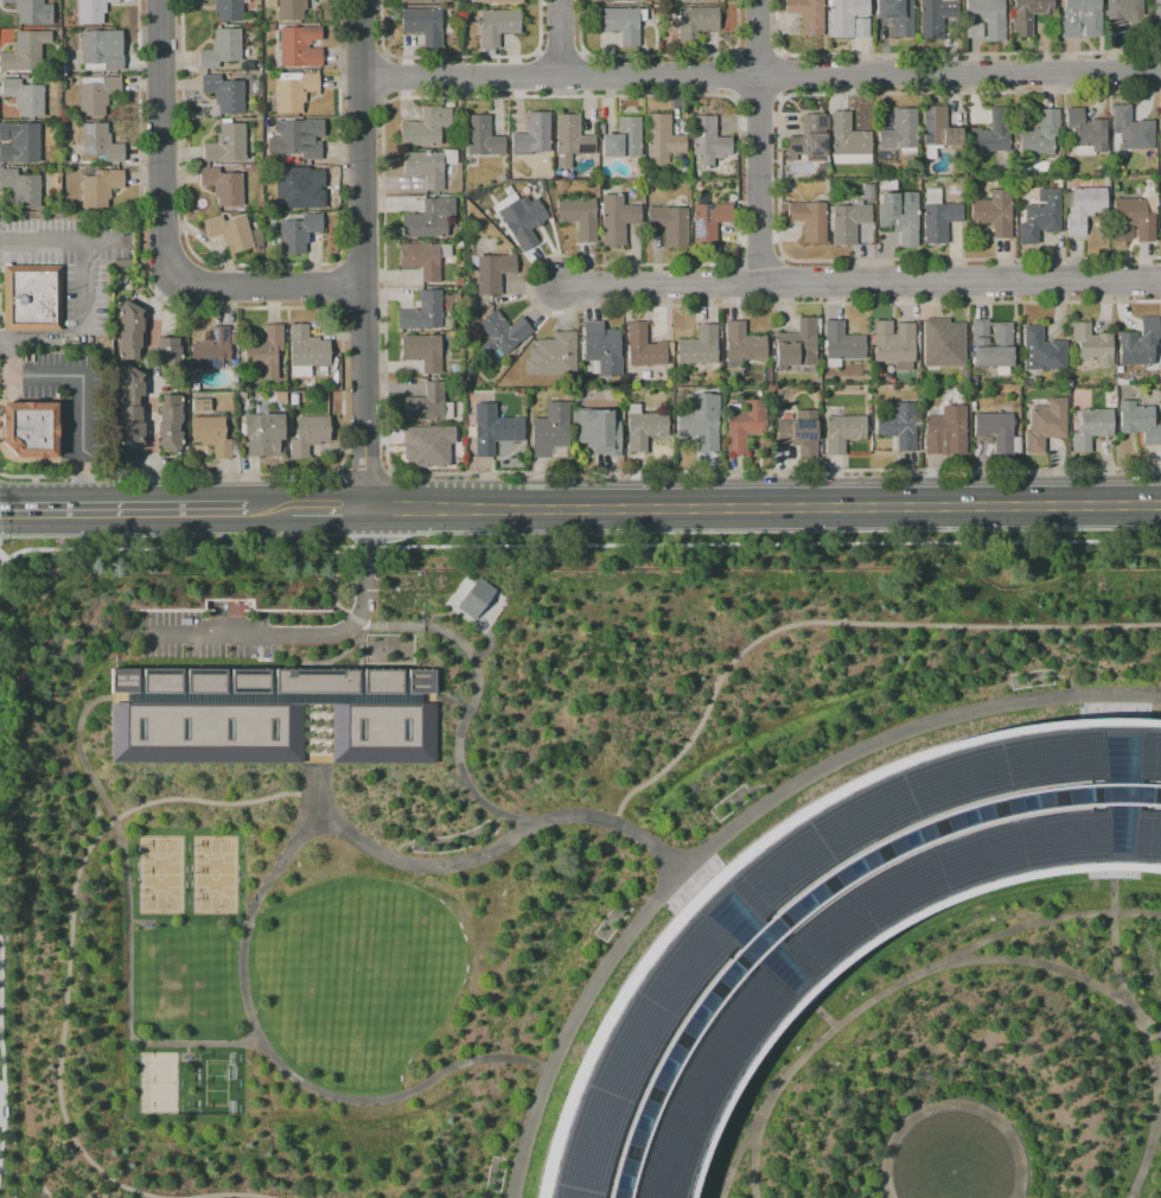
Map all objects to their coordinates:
building: (613, 0)
building: (695, 0)
building: (425, 1)
building: (496, 1)
building: (269, 4)
building: (229, 9)
building: (291, 9)
building: (27, 11)
building: (90, 11)
building: (1123, 11)
building: (1156, 12)
building: (806, 14)
building: (1027, 14)
building: (895, 15)
building: (934, 17)
building: (988, 17)
building: (1079, 17)
building: (697, 18)
building: (847, 18)
building: (620, 23)
building: (422, 24)
building: (497, 25)
building: (975, 30)
road: (557, 37)
building: (299, 46)
building: (221, 47)
building: (25, 51)
building: (98, 52)
building: (245, 65)
road: (760, 76)
building: (66, 81)
building: (294, 90)
building: (224, 93)
building: (96, 94)
building: (24, 96)
building: (426, 127)
building: (938, 128)
building: (1130, 128)
building: (1085, 129)
building: (1040, 132)
building: (900, 133)
building: (991, 133)
building: (532, 134)
building: (481, 135)
building: (623, 138)
building: (708, 138)
building: (808, 138)
road: (161, 139)
building: (662, 139)
building: (570, 140)
building: (847, 140)
building: (294, 141)
building: (1160, 141)
building: (19, 142)
building: (100, 142)
road: (760, 142)
building: (225, 144)
building: (425, 168)
building: (222, 185)
building: (100, 186)
building: (23, 187)
building: (300, 187)
building: (867, 192)
building: (1083, 208)
building: (994, 211)
building: (1160, 214)
building: (899, 215)
building: (579, 216)
building: (1041, 216)
building: (428, 218)
building: (617, 218)
building: (707, 218)
building: (808, 218)
building: (939, 219)
building: (1131, 219)
building: (847, 221)
building: (524, 223)
building: (670, 224)
building: (229, 232)
building: (298, 232)
road: (60, 240)
road: (363, 254)
building: (421, 260)
parking lot: (72, 262)
building: (493, 270)
road: (268, 285)
road: (862, 285)
road: (84, 287)
building: (32, 298)
road: (154, 310)
building: (422, 312)
building: (129, 329)
building: (502, 333)
building: (1001, 336)
building: (841, 342)
building: (892, 342)
road: (24, 343)
building: (742, 343)
building: (942, 343)
building: (1138, 343)
building: (796, 344)
building: (643, 345)
building: (698, 345)
building: (1091, 345)
building: (601, 348)
building: (211, 349)
building: (166, 350)
building: (306, 350)
building: (1041, 350)
building: (264, 351)
building: (422, 351)
building: (551, 355)
road: (146, 363)
road: (78, 395)
building: (281, 397)
building: (950, 397)
building: (428, 404)
building: (204, 407)
building: (133, 412)
building: (1141, 423)
building: (172, 425)
building: (1048, 426)
building: (747, 427)
building: (900, 427)
building: (30, 428)
building: (702, 429)
building: (1093, 429)
building: (648, 431)
building: (490, 433)
building: (553, 433)
building: (602, 433)
building: (846, 433)
building: (944, 433)
building: (999, 433)
building: (803, 434)
building: (213, 436)
building: (266, 436)
building: (312, 436)
road: (147, 444)
building: (432, 445)
road: (763, 506)
road: (327, 509)
road: (122, 510)
road: (268, 510)
road: (164, 548)
road: (1, 557)
road: (1, 561)
road: (365, 566)
road: (330, 591)
building: (473, 597)
road: (783, 622)
road: (254, 635)
parking lot: (191, 649)
road: (1111, 694)
building: (268, 718)
road: (458, 733)
road: (339, 770)
road: (314, 792)
road: (728, 813)
park: (164, 877)
park: (216, 877)
road: (128, 909)
building: (821, 917)
road: (1118, 957)
road: (240, 961)
road: (1033, 962)
road: (75, 966)
road: (891, 982)
road: (814, 1009)
building: (158, 1073)
park: (160, 1079)
park: (211, 1079)
road: (951, 1087)
road: (2, 1091)
road: (1137, 1147)
road: (748, 1164)
road: (1027, 1196)

